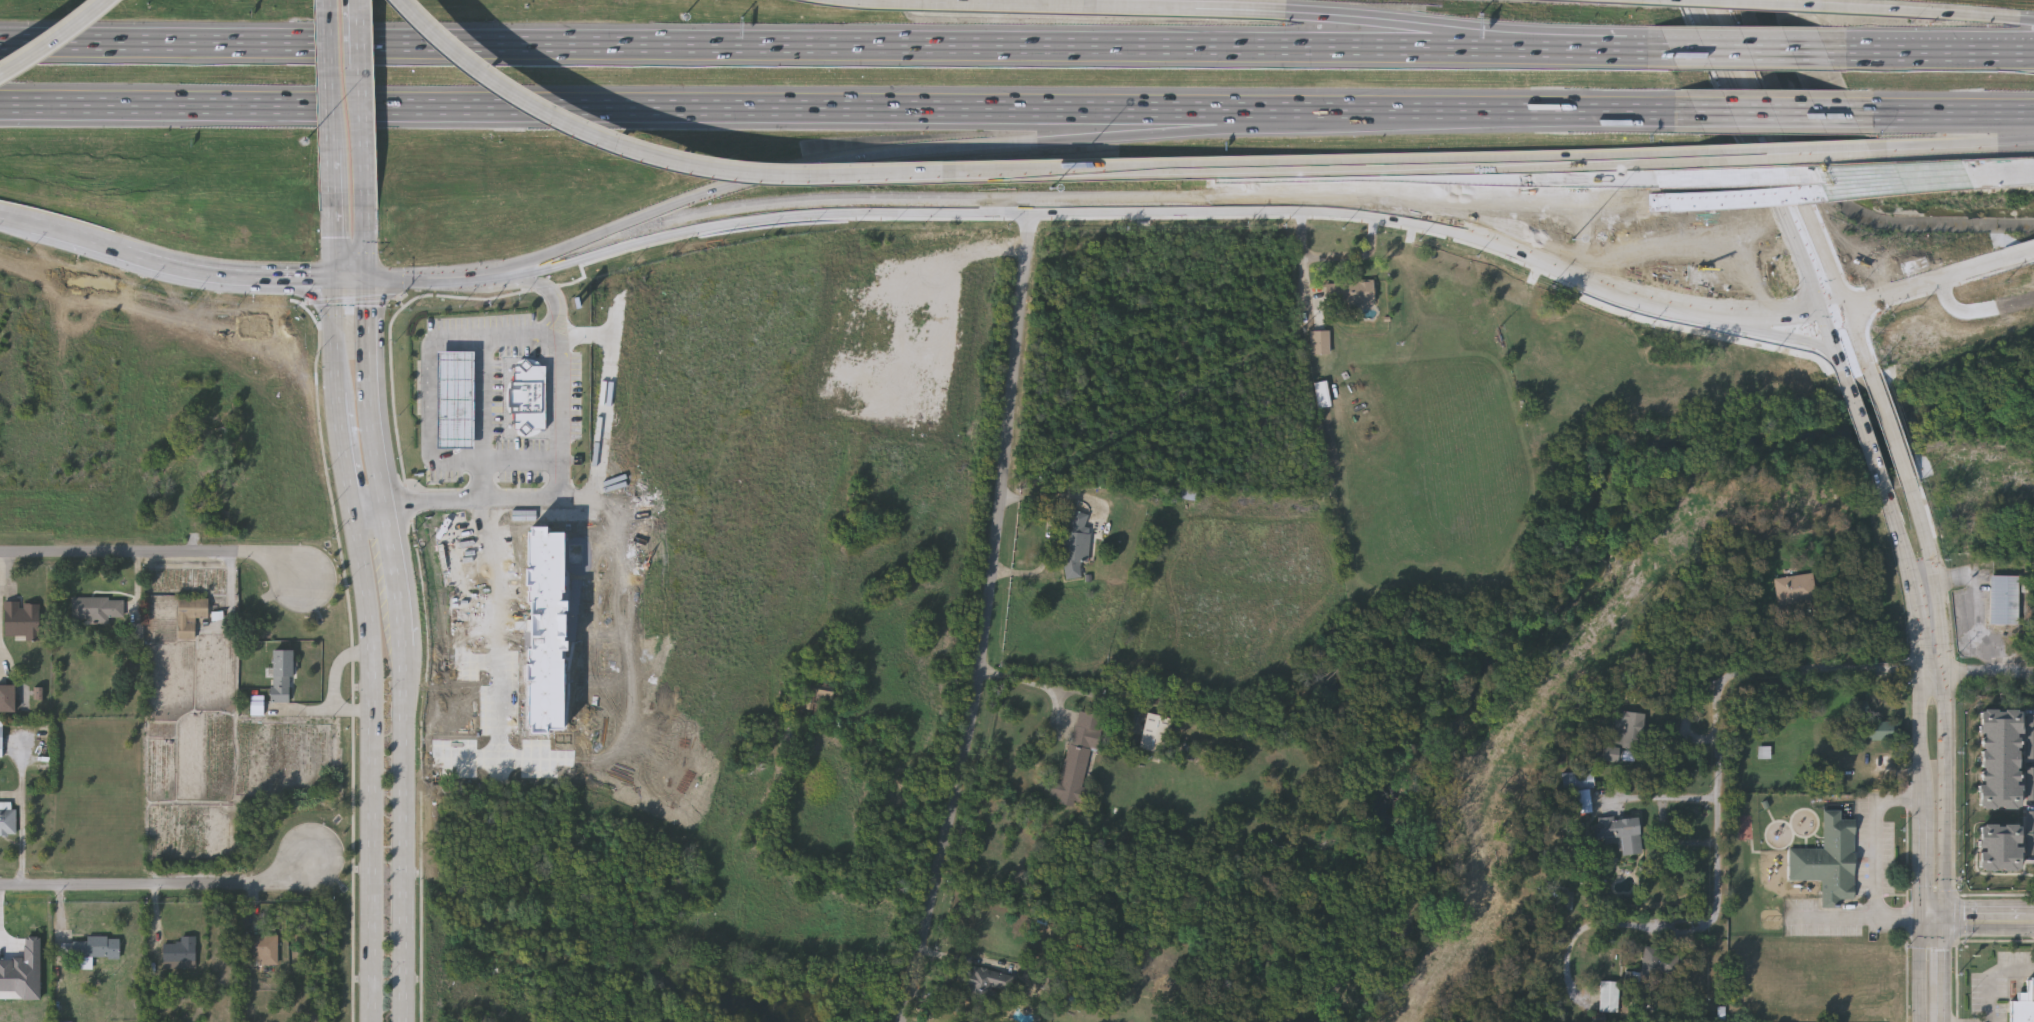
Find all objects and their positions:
road: (1077, 0)
road: (1744, 2)
road: (1189, 5)
road: (1913, 10)
road: (2027, 19)
road: (1410, 24)
road: (54, 40)
road: (767, 43)
road: (1599, 47)
road: (1739, 48)
road: (1925, 49)
road: (1760, 96)
road: (1738, 99)
road: (61, 104)
road: (909, 107)
road: (1774, 112)
road: (1943, 112)
road: (329, 114)
road: (364, 115)
road: (2016, 138)
road: (1933, 144)
road: (513, 150)
road: (657, 152)
road: (1780, 152)
road: (1578, 161)
road: (1207, 169)
road: (1552, 171)
road: (1796, 176)
road: (1842, 190)
road: (1349, 194)
road: (1174, 199)
road: (1516, 199)
road: (937, 201)
road: (1372, 209)
road: (17, 215)
road: (682, 226)
road: (333, 254)
road: (368, 256)
road: (2018, 257)
road: (1329, 259)
road: (160, 264)
road: (507, 271)
road: (1569, 271)
road: (1303, 278)
road: (429, 279)
road: (312, 280)
traffic signals: (333, 280)
road: (351, 281)
traffic signals: (370, 282)
road: (1925, 283)
road: (1839, 284)
building: (1350, 290)
road: (1814, 291)
road: (554, 295)
road: (315, 296)
traffic signals: (1848, 305)
road: (1978, 309)
traffic signals: (1823, 313)
road: (1780, 315)
road: (333, 335)
road: (1777, 336)
building: (1321, 340)
road: (431, 380)
building: (1323, 392)
road: (371, 394)
building: (528, 396)
building: (454, 398)
gas station: (454, 398)
road: (1891, 431)
road: (1867, 439)
road: (481, 440)
road: (342, 452)
building: (182, 471)
road: (557, 499)
road: (372, 510)
road: (1049, 532)
road: (1900, 540)
road: (157, 542)
building: (1075, 543)
road: (400, 576)
road: (1937, 577)
building: (1794, 588)
road: (461, 599)
building: (2005, 600)
building: (94, 608)
road: (1976, 612)
building: (189, 615)
road: (989, 616)
building: (21, 619)
building: (547, 628)
road: (1917, 628)
road: (499, 630)
building: (137, 631)
road: (1932, 671)
road: (1989, 672)
road: (1787, 674)
building: (280, 675)
building: (40, 693)
building: (8, 698)
building: (815, 700)
building: (258, 705)
building: (161, 729)
building: (1880, 733)
building: (1154, 734)
building: (1622, 734)
building: (2030, 736)
building: (0, 738)
building: (1764, 751)
building: (1077, 759)
building: (2001, 759)
road: (490, 761)
road: (370, 767)
building: (2031, 784)
building: (1579, 786)
road: (1923, 794)
road: (1944, 795)
road: (16, 812)
building: (7, 817)
road: (1664, 818)
building: (1621, 832)
building: (2030, 832)
road: (408, 834)
road: (1877, 835)
building: (2001, 848)
building: (1829, 858)
road: (1719, 878)
road: (159, 884)
road: (1834, 918)
road: (1900, 918)
traffic signals: (1923, 918)
road: (1933, 918)
traffic signals: (1944, 918)
road: (1989, 918)
building: (91, 947)
building: (262, 949)
building: (180, 953)
building: (1657, 964)
road: (1923, 970)
road: (1944, 970)
building: (23, 973)
road: (1991, 975)
building: (986, 984)
building: (1609, 995)
building: (2024, 1005)
building: (482, 1019)

